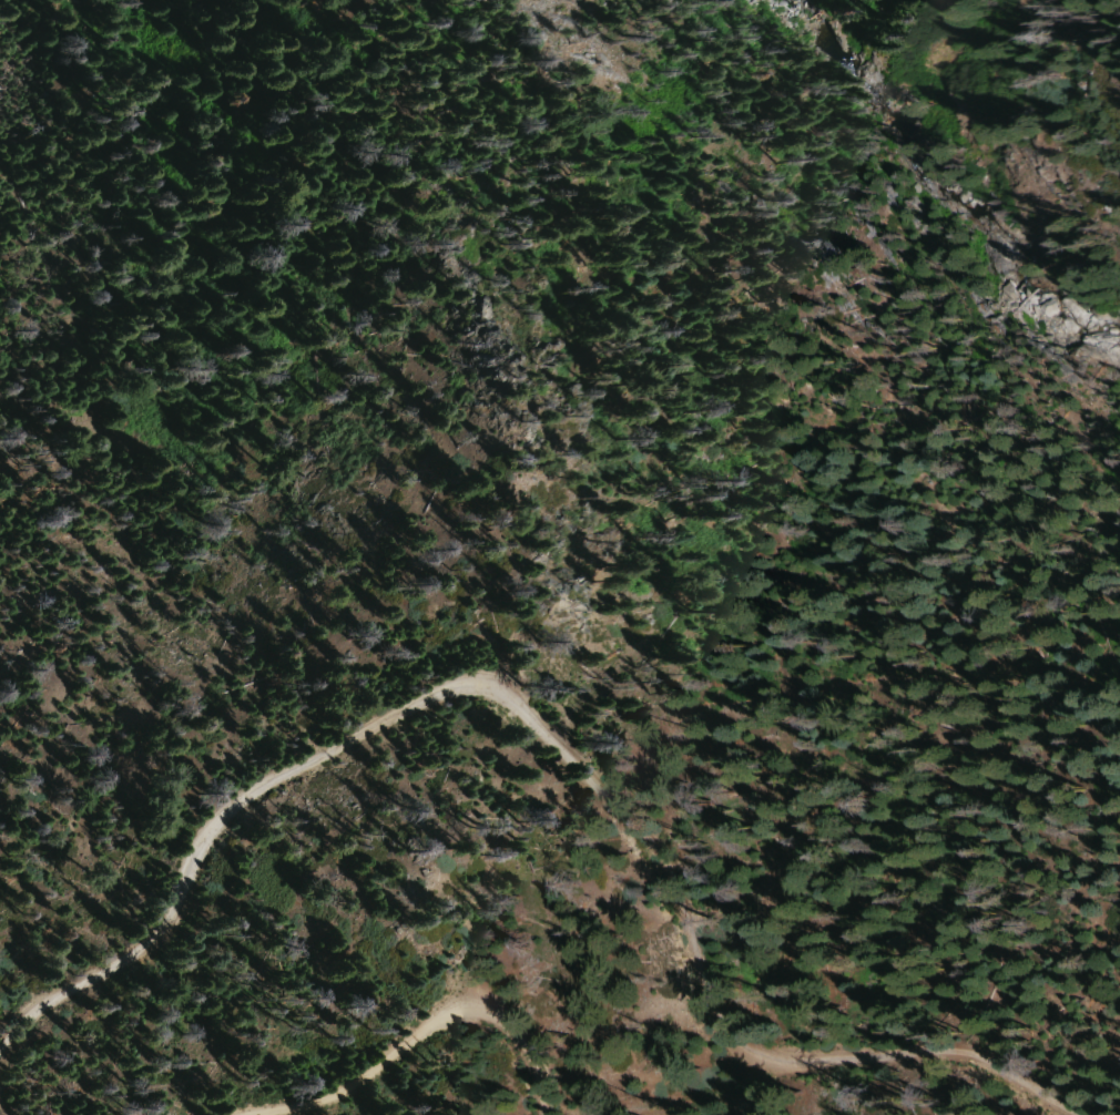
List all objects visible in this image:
road: (551, 750)
road: (431, 1020)

